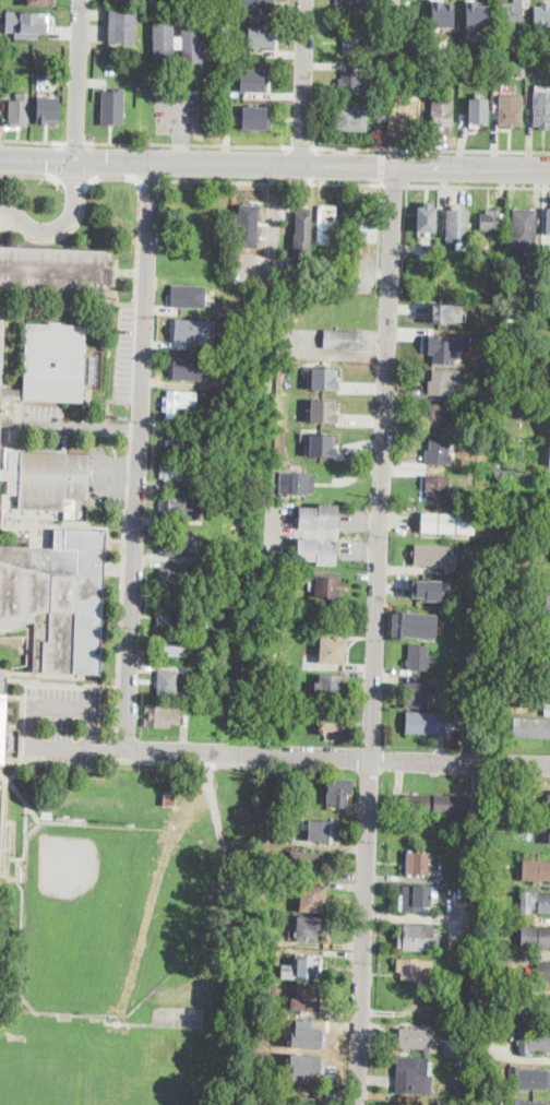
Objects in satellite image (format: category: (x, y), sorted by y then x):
building: (39, 2)
building: (260, 7)
building: (348, 7)
building: (409, 7)
building: (442, 12)
building: (477, 13)
building: (542, 14)
building: (513, 19)
building: (24, 23)
building: (122, 25)
building: (379, 26)
building: (260, 35)
building: (352, 41)
building: (177, 43)
building: (476, 44)
building: (521, 52)
building: (431, 70)
building: (534, 71)
road: (79, 79)
road: (304, 80)
building: (253, 81)
building: (357, 83)
building: (111, 106)
building: (541, 106)
building: (19, 108)
building: (46, 108)
road: (179, 110)
building: (512, 110)
building: (382, 111)
building: (408, 111)
building: (443, 112)
building: (477, 114)
building: (255, 116)
building: (352, 120)
road: (32, 143)
road: (75, 144)
road: (190, 145)
road: (181, 146)
road: (304, 147)
road: (349, 148)
road: (466, 151)
road: (37, 156)
traffic signals: (75, 157)
road: (61, 159)
road: (235, 161)
road: (87, 162)
road: (473, 165)
road: (382, 167)
road: (31, 174)
road: (73, 177)
road: (89, 179)
road: (151, 180)
road: (273, 181)
road: (394, 185)
road: (478, 187)
road: (139, 214)
road: (273, 216)
building: (491, 221)
building: (549, 222)
road: (59, 224)
building: (423, 224)
building: (326, 225)
building: (458, 225)
building: (248, 226)
building: (525, 228)
building: (363, 229)
building: (302, 233)
road: (59, 236)
building: (55, 269)
building: (190, 296)
building: (440, 314)
building: (510, 319)
building: (199, 336)
building: (342, 338)
building: (450, 348)
parking lot: (124, 352)
building: (232, 359)
building: (48, 363)
building: (188, 369)
building: (324, 377)
building: (445, 382)
building: (489, 395)
building: (179, 402)
building: (322, 409)
building: (440, 417)
road: (80, 425)
building: (180, 443)
building: (321, 444)
building: (439, 452)
road: (139, 453)
building: (549, 462)
building: (176, 471)
building: (216, 471)
building: (49, 477)
building: (467, 478)
building: (297, 484)
building: (437, 488)
building: (273, 490)
building: (171, 507)
building: (318, 514)
building: (449, 523)
building: (537, 532)
building: (177, 544)
building: (316, 550)
building: (429, 555)
building: (247, 562)
building: (168, 581)
building: (330, 587)
building: (427, 589)
building: (501, 590)
building: (57, 596)
building: (548, 597)
building: (171, 614)
road: (121, 618)
building: (412, 623)
road: (375, 633)
building: (180, 647)
building: (334, 651)
building: (419, 658)
building: (545, 666)
building: (168, 682)
building: (203, 682)
building: (331, 686)
building: (418, 694)
building: (547, 696)
building: (547, 705)
building: (0, 713)
building: (459, 715)
building: (159, 717)
road: (31, 718)
building: (333, 722)
building: (429, 723)
parking lot: (63, 725)
building: (531, 727)
road: (20, 730)
road: (113, 747)
road: (338, 755)
road: (7, 777)
building: (264, 785)
building: (339, 791)
building: (170, 800)
building: (549, 800)
building: (434, 803)
road: (31, 808)
road: (24, 819)
road: (7, 831)
building: (268, 831)
building: (324, 831)
building: (549, 835)
building: (262, 856)
building: (308, 863)
building: (419, 863)
building: (476, 869)
building: (536, 870)
road: (225, 879)
building: (475, 892)
building: (313, 898)
building: (418, 898)
building: (535, 902)
park: (111, 912)
building: (310, 929)
building: (536, 937)
building: (418, 938)
building: (303, 969)
building: (416, 970)
building: (543, 970)
building: (306, 999)
building: (276, 1007)
building: (542, 1008)
road: (40, 1012)
parking lot: (177, 1013)
building: (503, 1015)
building: (307, 1036)
building: (418, 1038)
building: (533, 1041)
building: (302, 1066)
park: (38, 1072)
building: (414, 1076)
building: (526, 1079)
building: (309, 1101)
building: (525, 1102)
building: (445, 1104)

